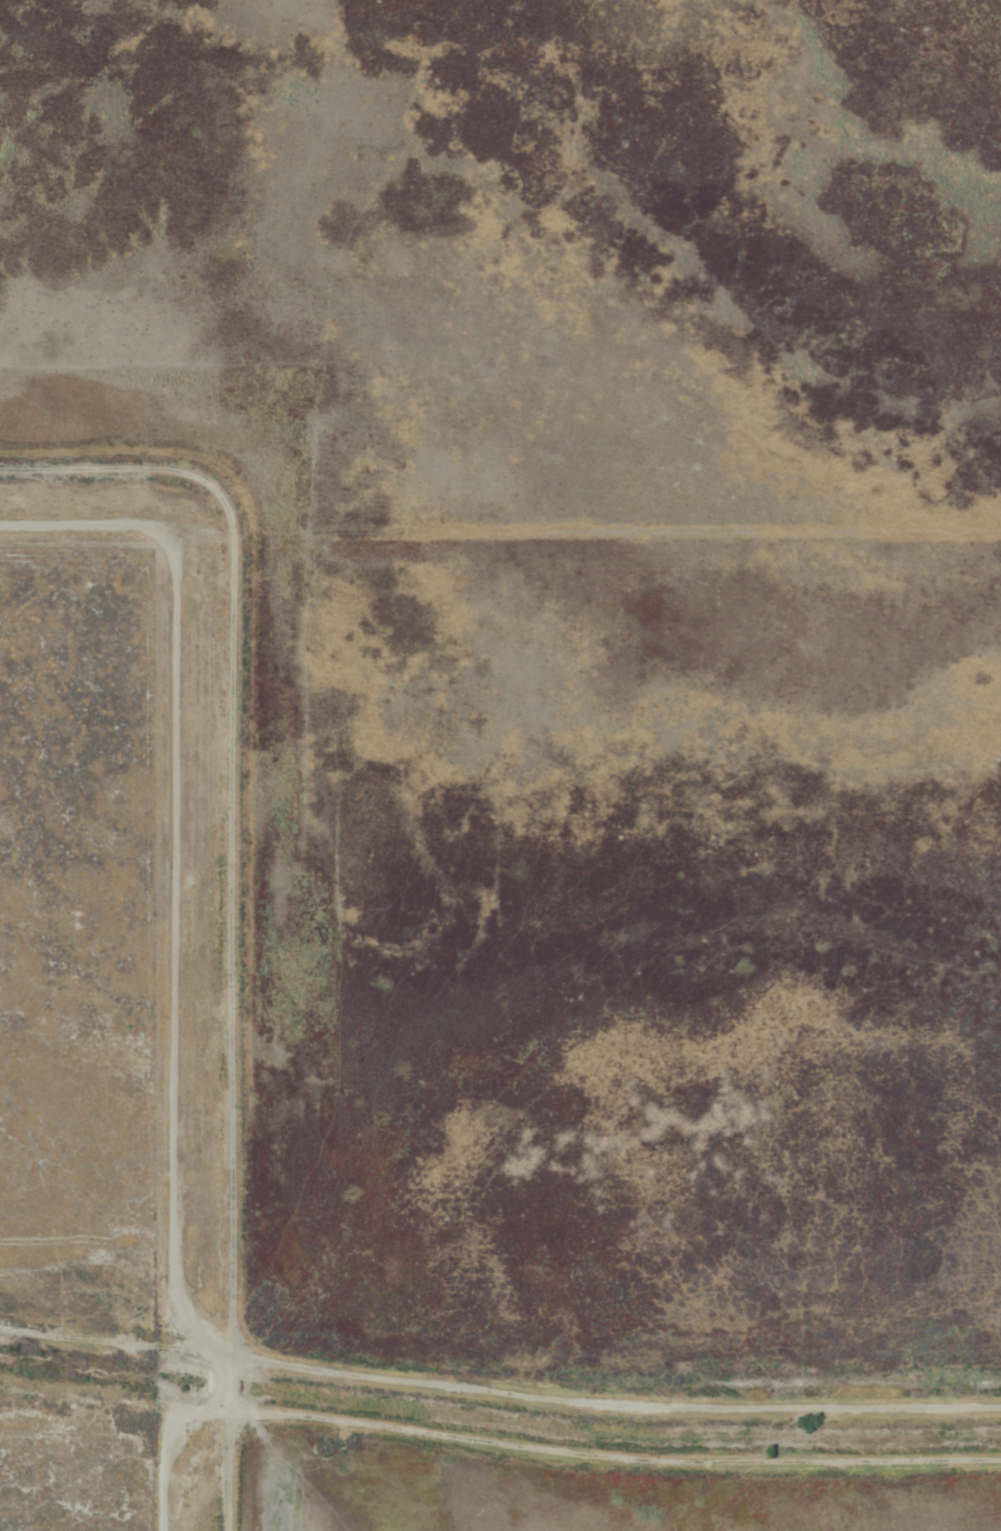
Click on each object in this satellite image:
crop: (553, 734)
road: (777, 1492)

